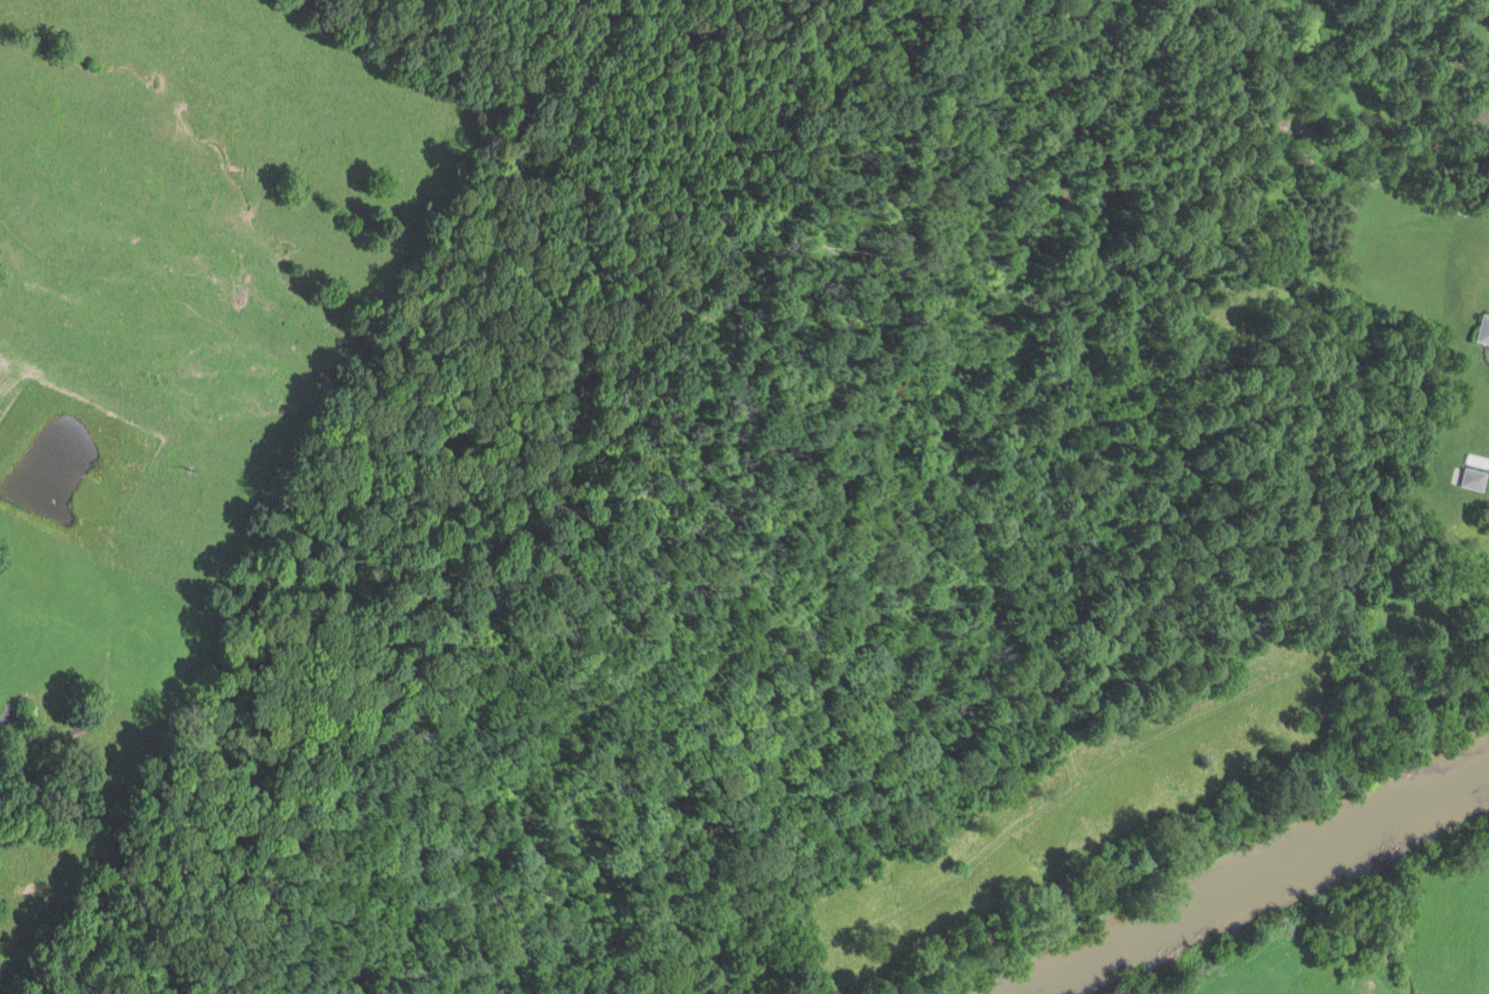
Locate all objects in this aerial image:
river: (1259, 881)

